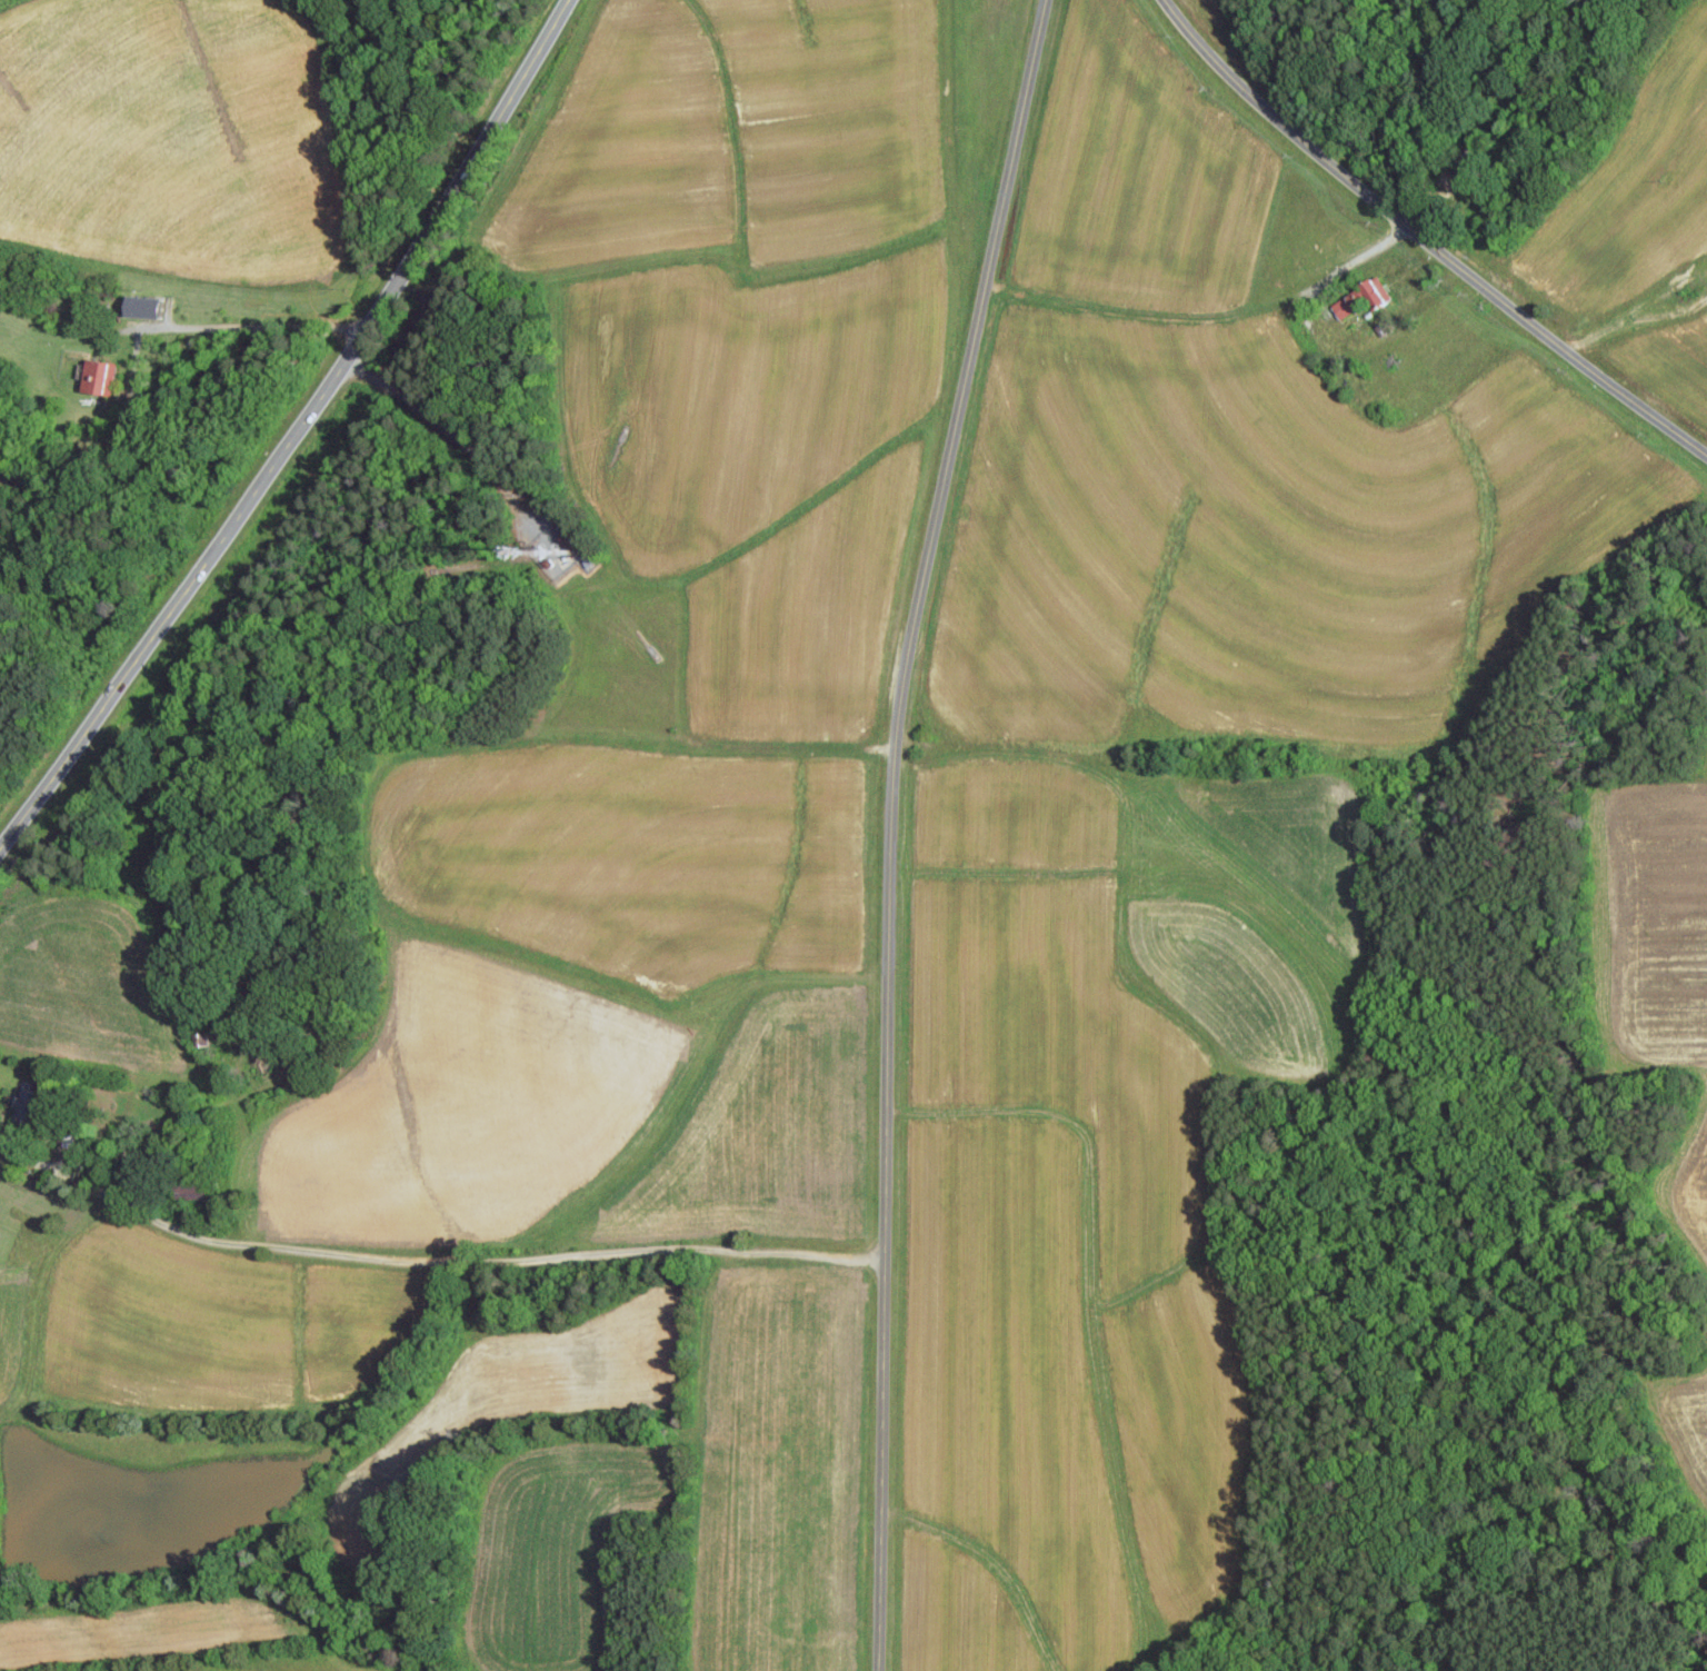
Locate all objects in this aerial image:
road: (1425, 240)
road: (1348, 262)
building: (1370, 290)
building: (1342, 305)
building: (154, 306)
road: (140, 339)
building: (106, 375)
road: (443, 427)
road: (297, 432)
road: (891, 827)
building: (36, 1101)
building: (1, 1236)
road: (430, 1256)

